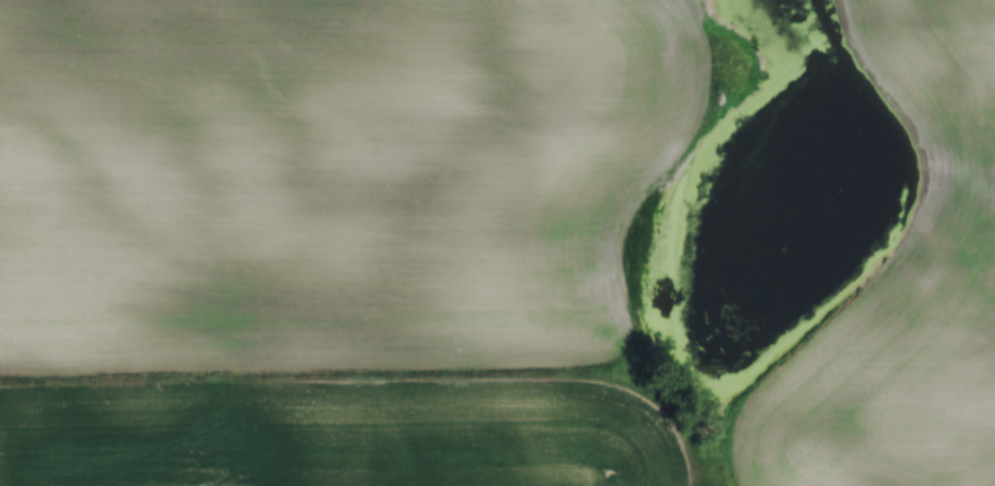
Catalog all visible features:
road: (802, 309)

